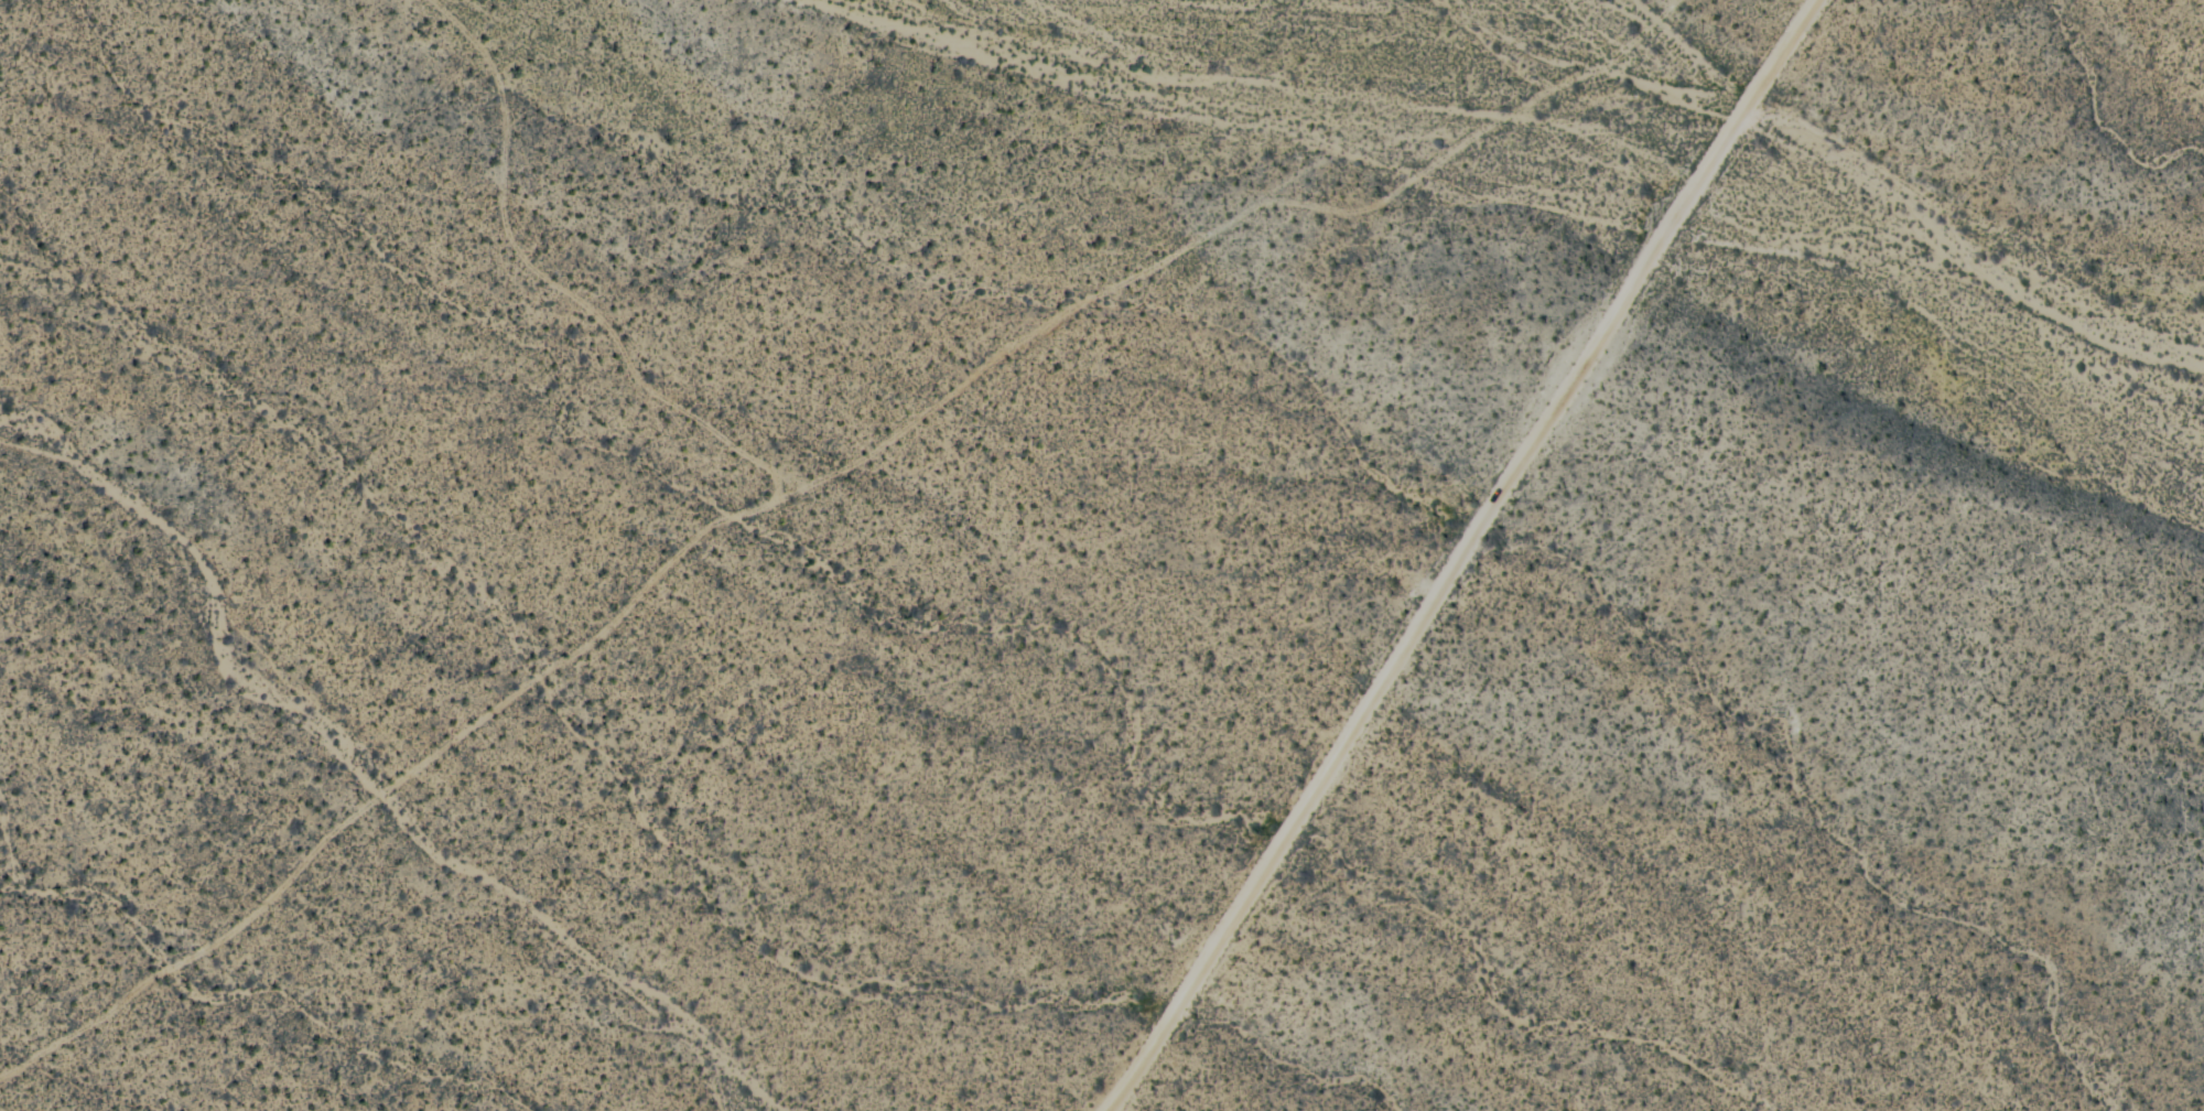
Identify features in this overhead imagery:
road: (1460, 557)

